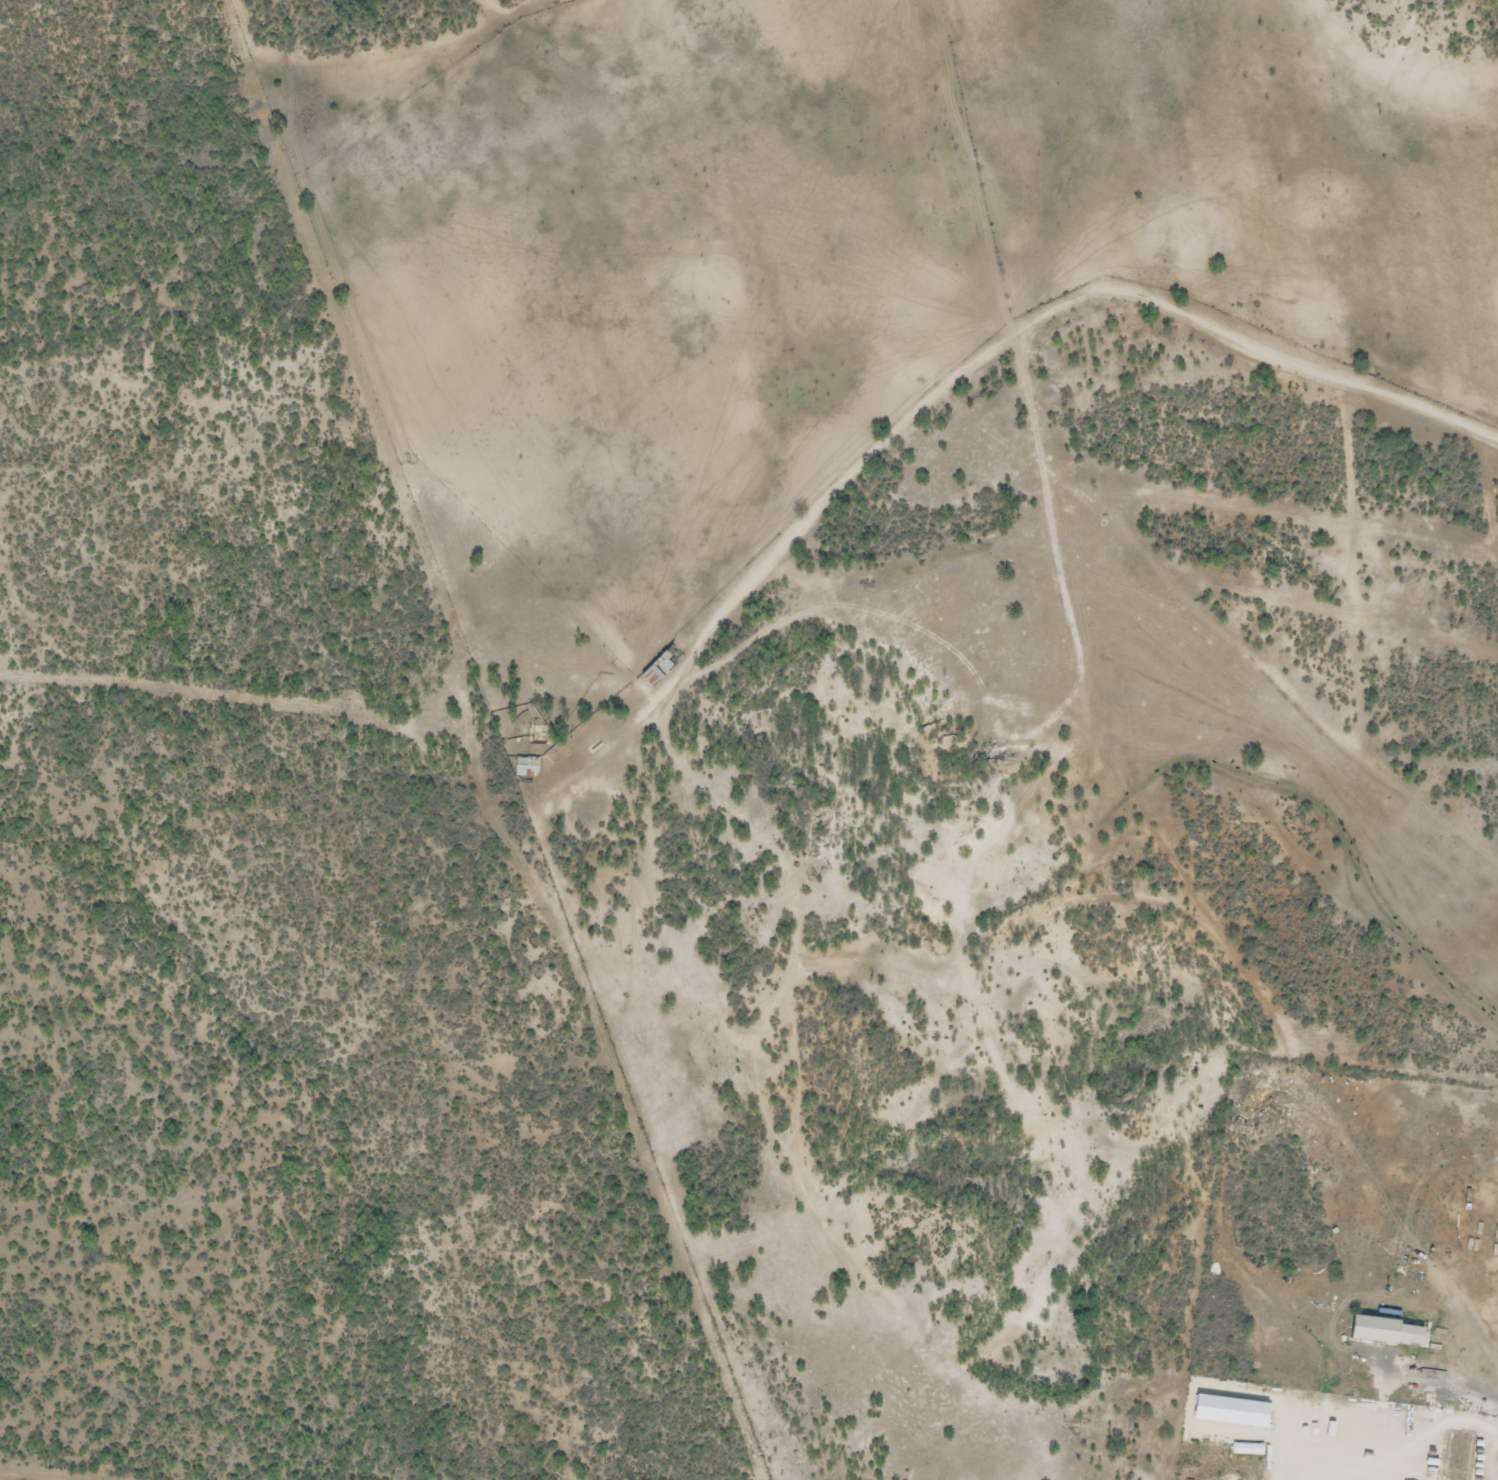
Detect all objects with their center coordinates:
road: (1019, 328)
building: (1389, 1331)

